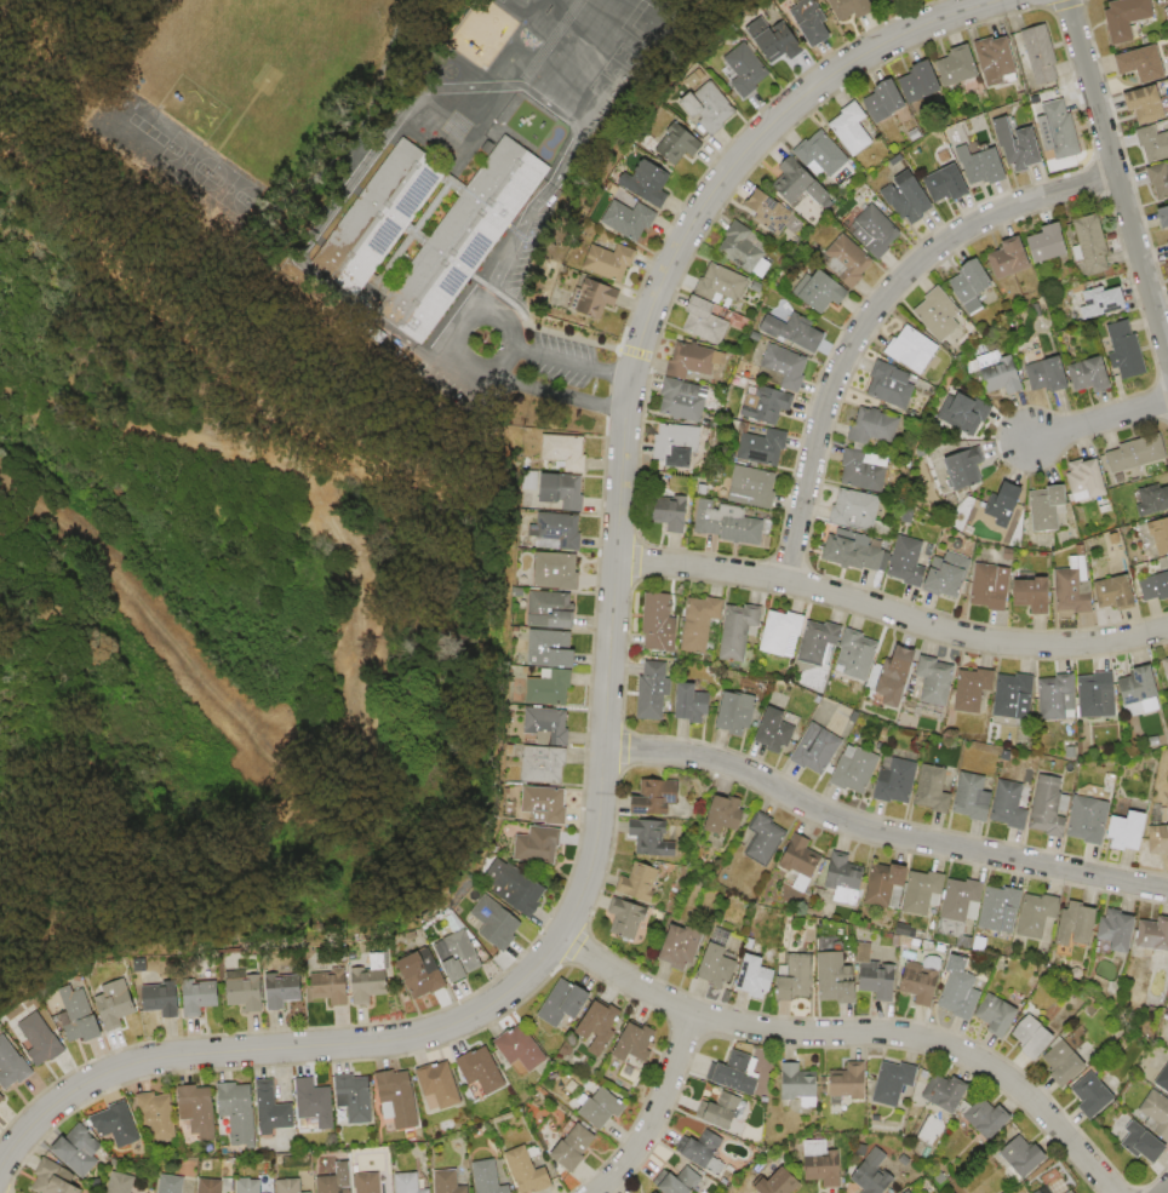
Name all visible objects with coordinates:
building: (893, 1)
building: (861, 6)
building: (1134, 17)
building: (820, 19)
building: (781, 40)
building: (1042, 53)
building: (1002, 59)
building: (1147, 62)
building: (964, 65)
building: (752, 67)
building: (926, 81)
building: (891, 99)
building: (1151, 103)
building: (714, 107)
building: (1059, 125)
building: (437, 126)
building: (857, 128)
building: (674, 139)
building: (1156, 142)
road: (376, 145)
building: (1021, 145)
building: (825, 154)
building: (984, 166)
road: (1117, 173)
building: (1162, 179)
building: (648, 180)
building: (803, 183)
building: (949, 183)
building: (909, 197)
building: (767, 212)
building: (1167, 212)
building: (376, 214)
building: (630, 218)
building: (876, 229)
building: (460, 239)
building: (1050, 242)
building: (1095, 243)
building: (1167, 243)
building: (740, 247)
building: (1010, 258)
road: (503, 259)
building: (847, 260)
building: (609, 262)
building: (722, 282)
building: (971, 285)
building: (820, 291)
building: (597, 298)
building: (1107, 302)
road: (874, 312)
building: (939, 312)
building: (704, 321)
road: (462, 322)
building: (794, 331)
building: (912, 349)
building: (1129, 349)
building: (688, 361)
road: (569, 363)
building: (785, 366)
building: (1049, 373)
building: (1093, 373)
building: (1004, 375)
building: (891, 384)
road: (555, 391)
building: (681, 400)
building: (765, 402)
building: (964, 414)
road: (1100, 421)
building: (874, 425)
building: (676, 446)
building: (762, 447)
building: (567, 451)
building: (1147, 451)
building: (964, 469)
building: (861, 470)
building: (1088, 481)
building: (752, 487)
building: (566, 491)
building: (1156, 500)
building: (1004, 503)
building: (1048, 507)
building: (854, 509)
building: (672, 514)
building: (731, 524)
building: (559, 528)
building: (1162, 535)
building: (854, 552)
building: (906, 561)
building: (557, 570)
building: (947, 574)
building: (991, 586)
building: (1075, 587)
building: (1155, 587)
building: (1118, 592)
building: (1035, 595)
building: (554, 609)
road: (893, 613)
building: (658, 623)
building: (699, 623)
building: (737, 631)
building: (781, 633)
building: (817, 642)
building: (552, 649)
building: (855, 655)
building: (1164, 669)
building: (893, 679)
building: (934, 679)
building: (550, 687)
building: (653, 690)
building: (973, 690)
building: (1143, 693)
building: (1098, 695)
building: (1058, 698)
building: (1013, 699)
road: (608, 701)
building: (693, 704)
building: (737, 713)
building: (548, 725)
building: (775, 730)
building: (815, 749)
building: (544, 764)
building: (854, 770)
building: (895, 781)
building: (933, 788)
building: (654, 797)
building: (973, 797)
building: (545, 804)
building: (1010, 805)
building: (1049, 807)
building: (726, 814)
building: (1090, 820)
building: (1130, 831)
road: (881, 832)
building: (649, 837)
building: (765, 839)
building: (1161, 839)
building: (538, 845)
building: (801, 862)
building: (844, 879)
building: (639, 882)
building: (515, 887)
building: (886, 887)
building: (924, 893)
building: (961, 907)
building: (1001, 910)
building: (1038, 917)
building: (631, 920)
building: (496, 923)
building: (1078, 927)
building: (1121, 931)
building: (1155, 935)
building: (680, 946)
building: (458, 956)
building: (718, 964)
building: (422, 974)
building: (756, 976)
building: (795, 977)
building: (837, 979)
building: (880, 983)
building: (368, 987)
building: (918, 987)
building: (333, 991)
building: (284, 993)
building: (961, 994)
building: (251, 997)
building: (167, 1000)
building: (204, 1003)
building: (563, 1003)
building: (121, 1005)
building: (998, 1015)
building: (86, 1019)
building: (597, 1027)
road: (857, 1033)
building: (1035, 1038)
building: (45, 1040)
building: (635, 1044)
building: (519, 1050)
building: (15, 1065)
building: (1065, 1065)
building: (480, 1073)
building: (738, 1074)
building: (1163, 1080)
building: (894, 1082)
building: (849, 1083)
building: (437, 1086)
building: (800, 1089)
building: (947, 1092)
building: (1094, 1096)
building: (353, 1097)
building: (4, 1100)
building: (397, 1100)
building: (315, 1103)
building: (600, 1107)
road: (658, 1109)
building: (199, 1112)
building: (725, 1112)
building: (1156, 1112)
building: (239, 1113)
building: (160, 1115)
building: (274, 1118)
building: (990, 1119)
building: (119, 1126)
building: (1145, 1143)
building: (574, 1148)
building: (705, 1148)
building: (79, 1151)
building: (1025, 1157)
building: (527, 1170)
building: (829, 1171)
building: (876, 1174)
building: (487, 1177)
building: (57, 1180)
building: (366, 1182)
building: (448, 1182)
building: (685, 1182)
building: (121, 1183)
building: (333, 1183)
building: (407, 1183)
building: (171, 1185)
building: (254, 1185)
building: (785, 1185)
building: (211, 1186)
building: (290, 1186)
building: (1059, 1186)
building: (653, 1192)
building: (910, 1192)
road: (1167, 1192)

